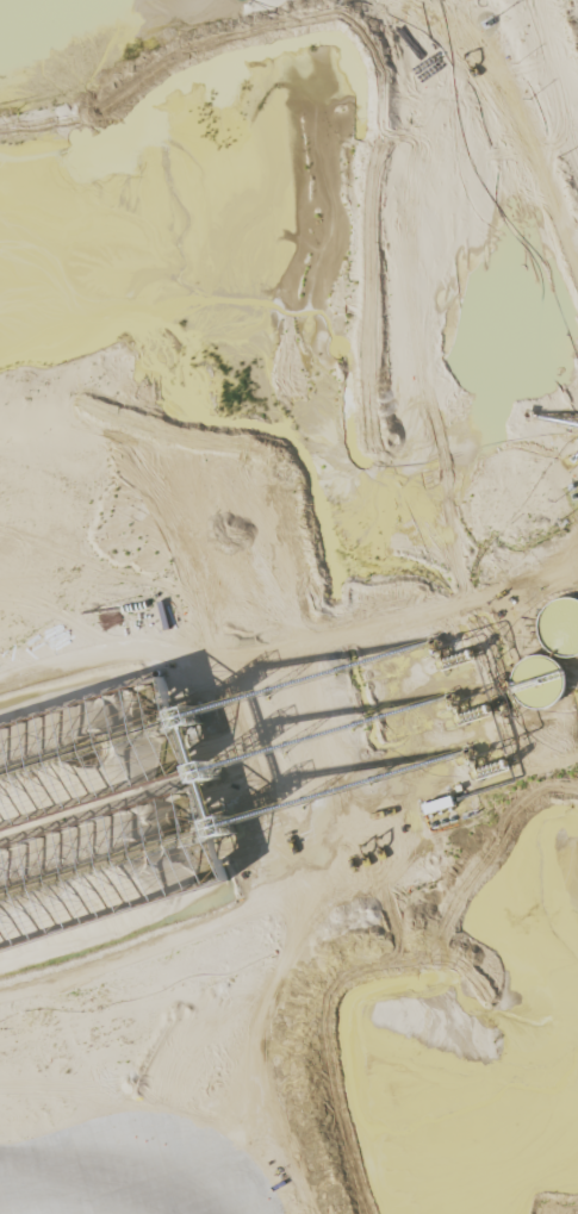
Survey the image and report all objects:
road: (164, 1177)

